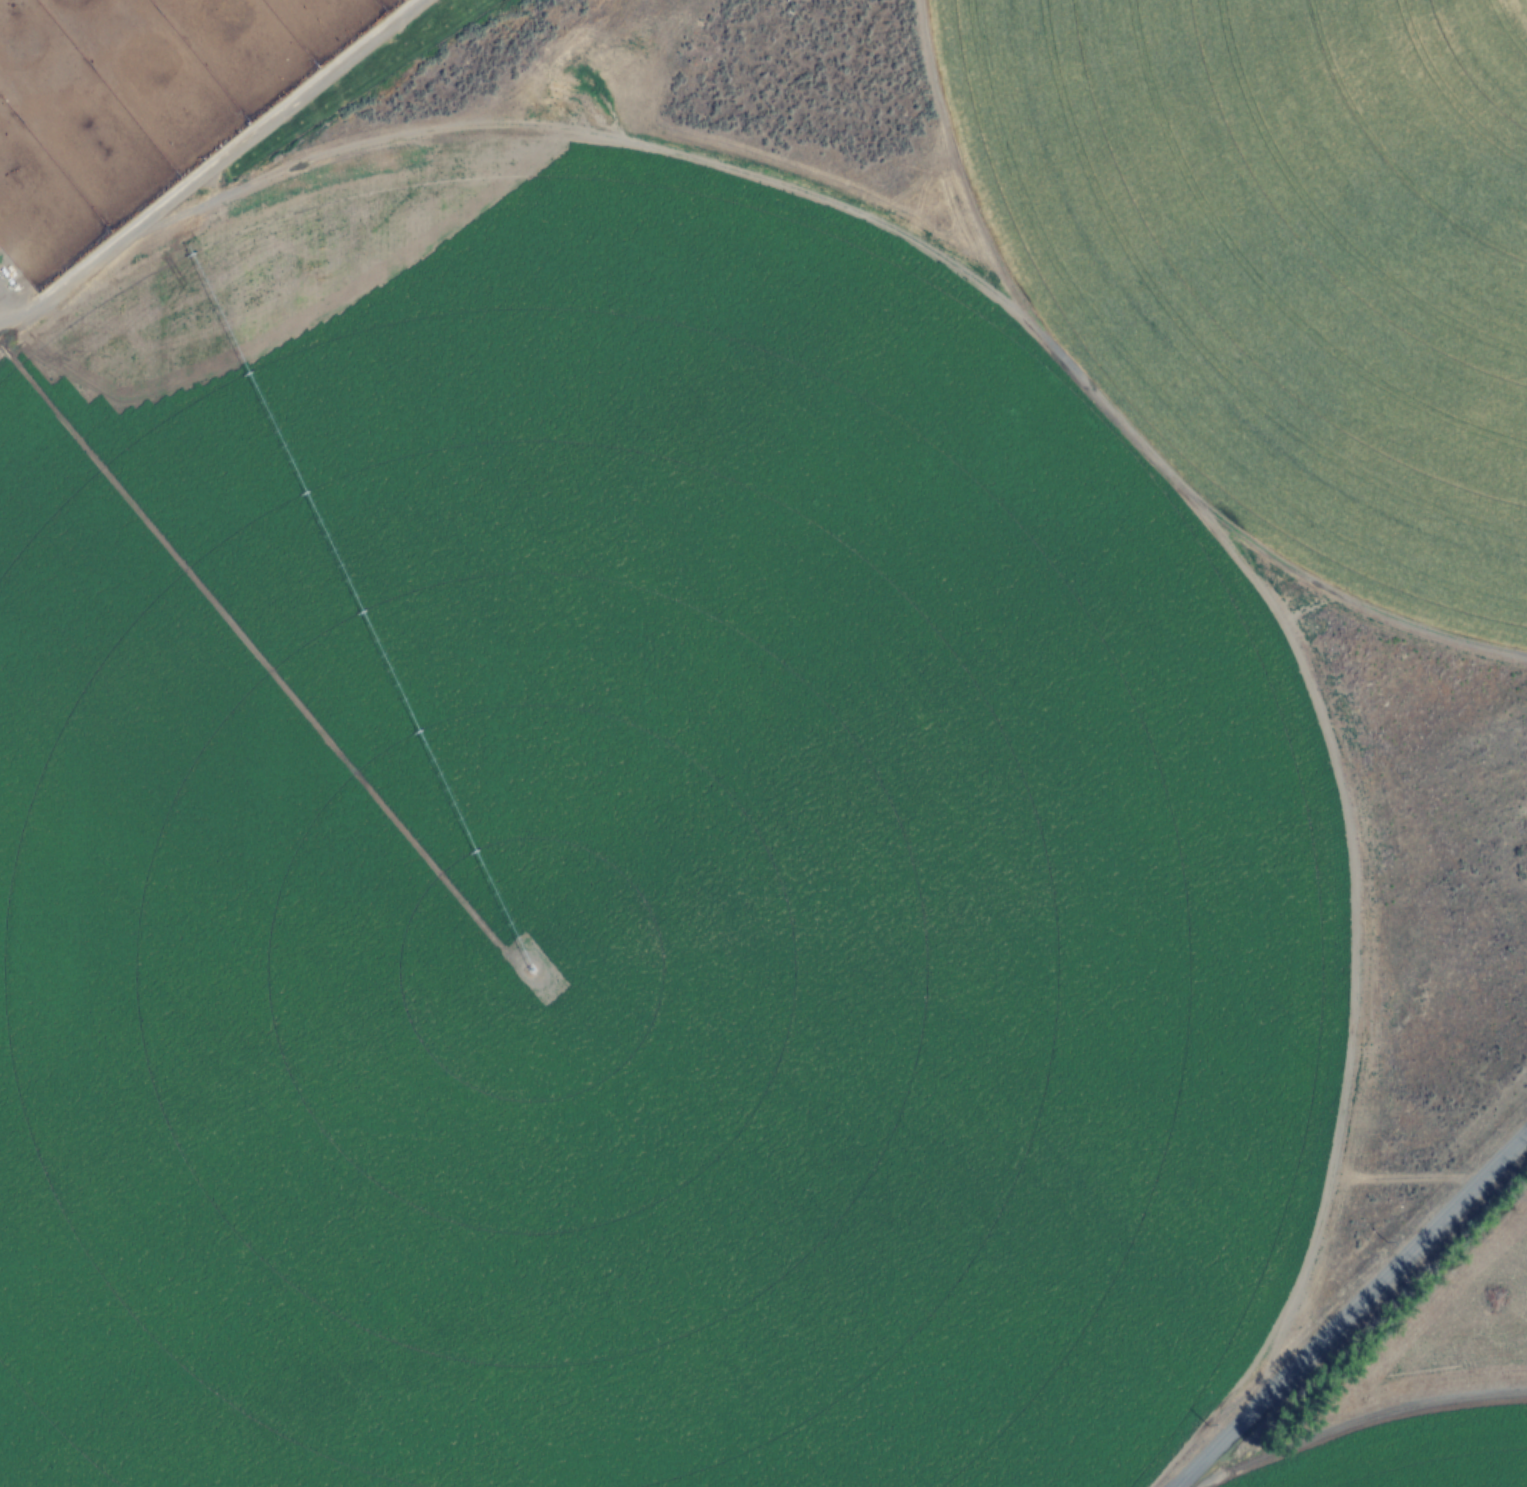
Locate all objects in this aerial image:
building: (555, 95)
road: (1355, 1310)

